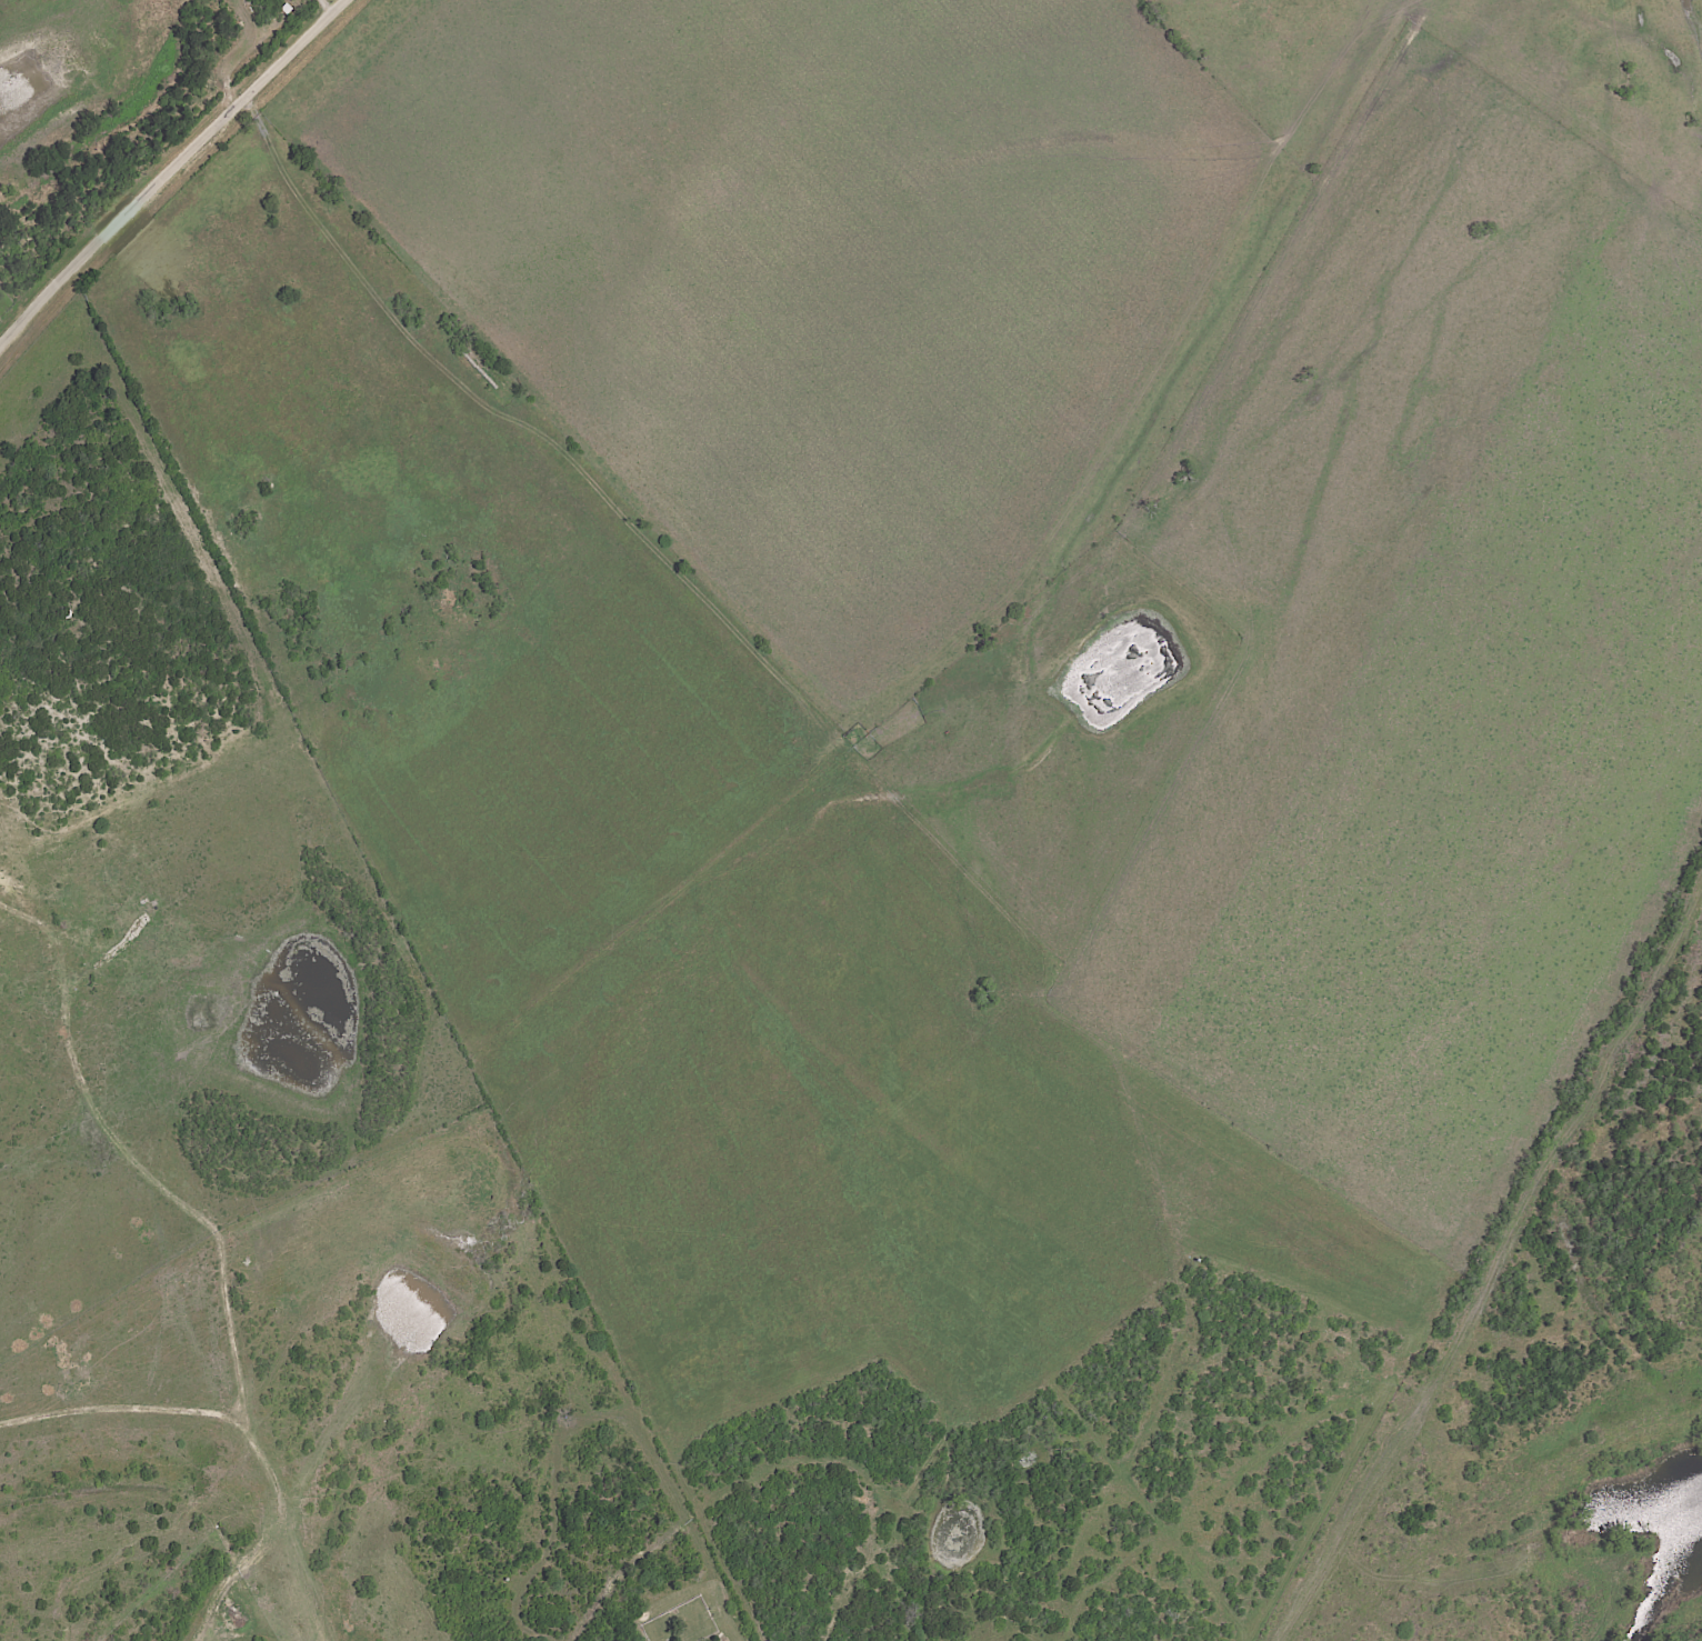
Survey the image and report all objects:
road: (170, 172)

